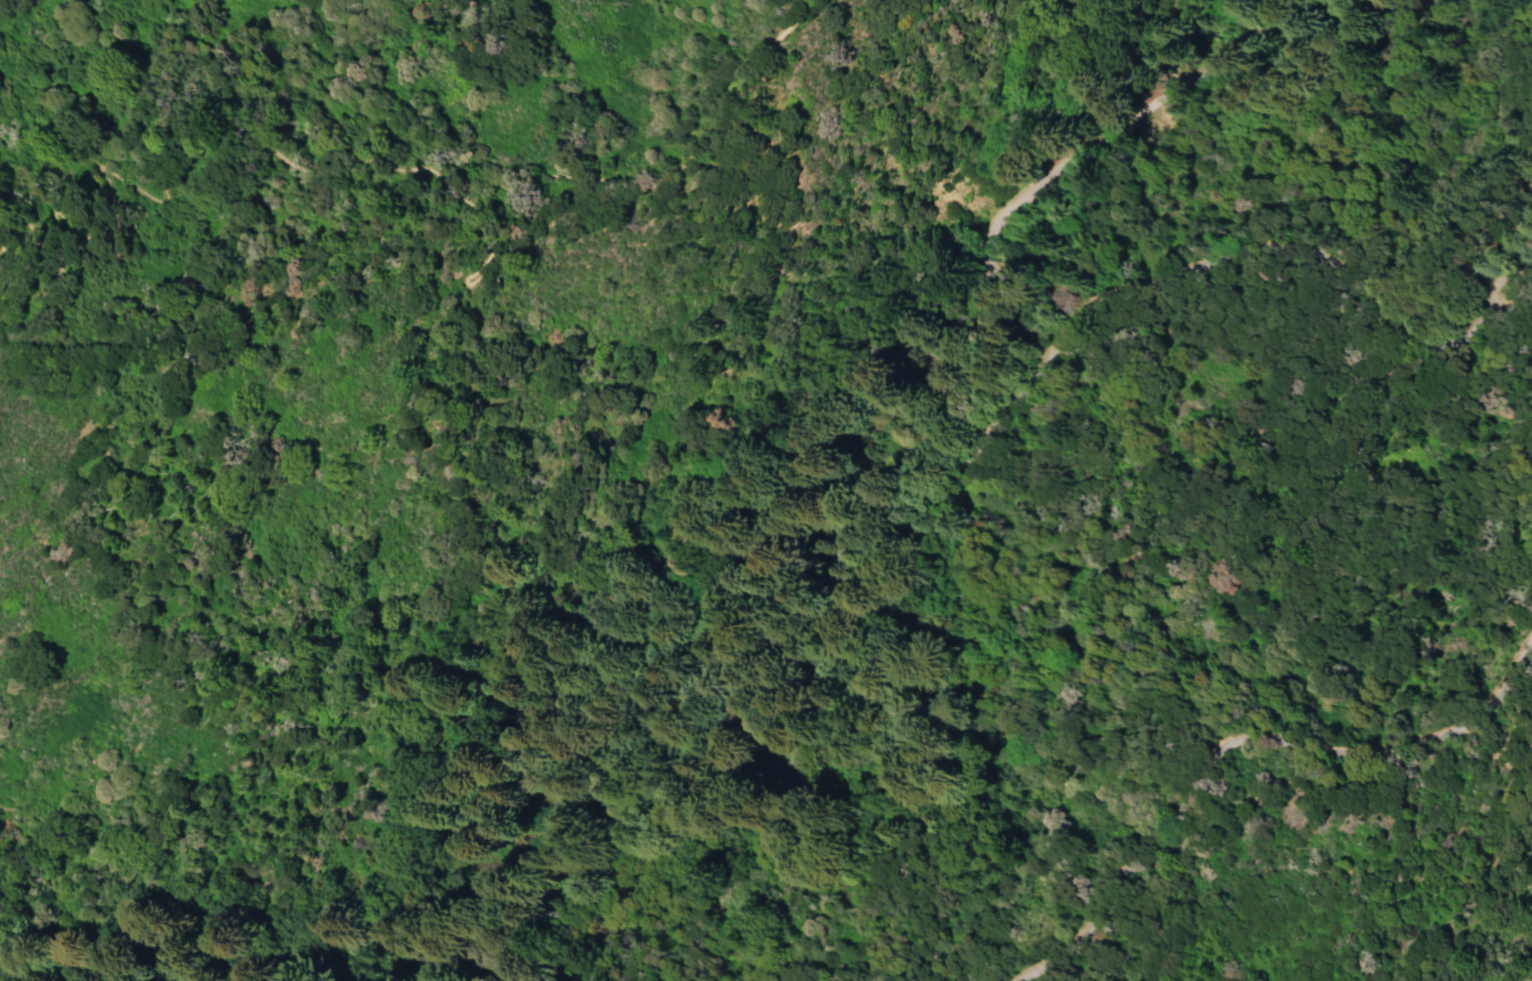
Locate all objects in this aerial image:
road: (309, 170)

